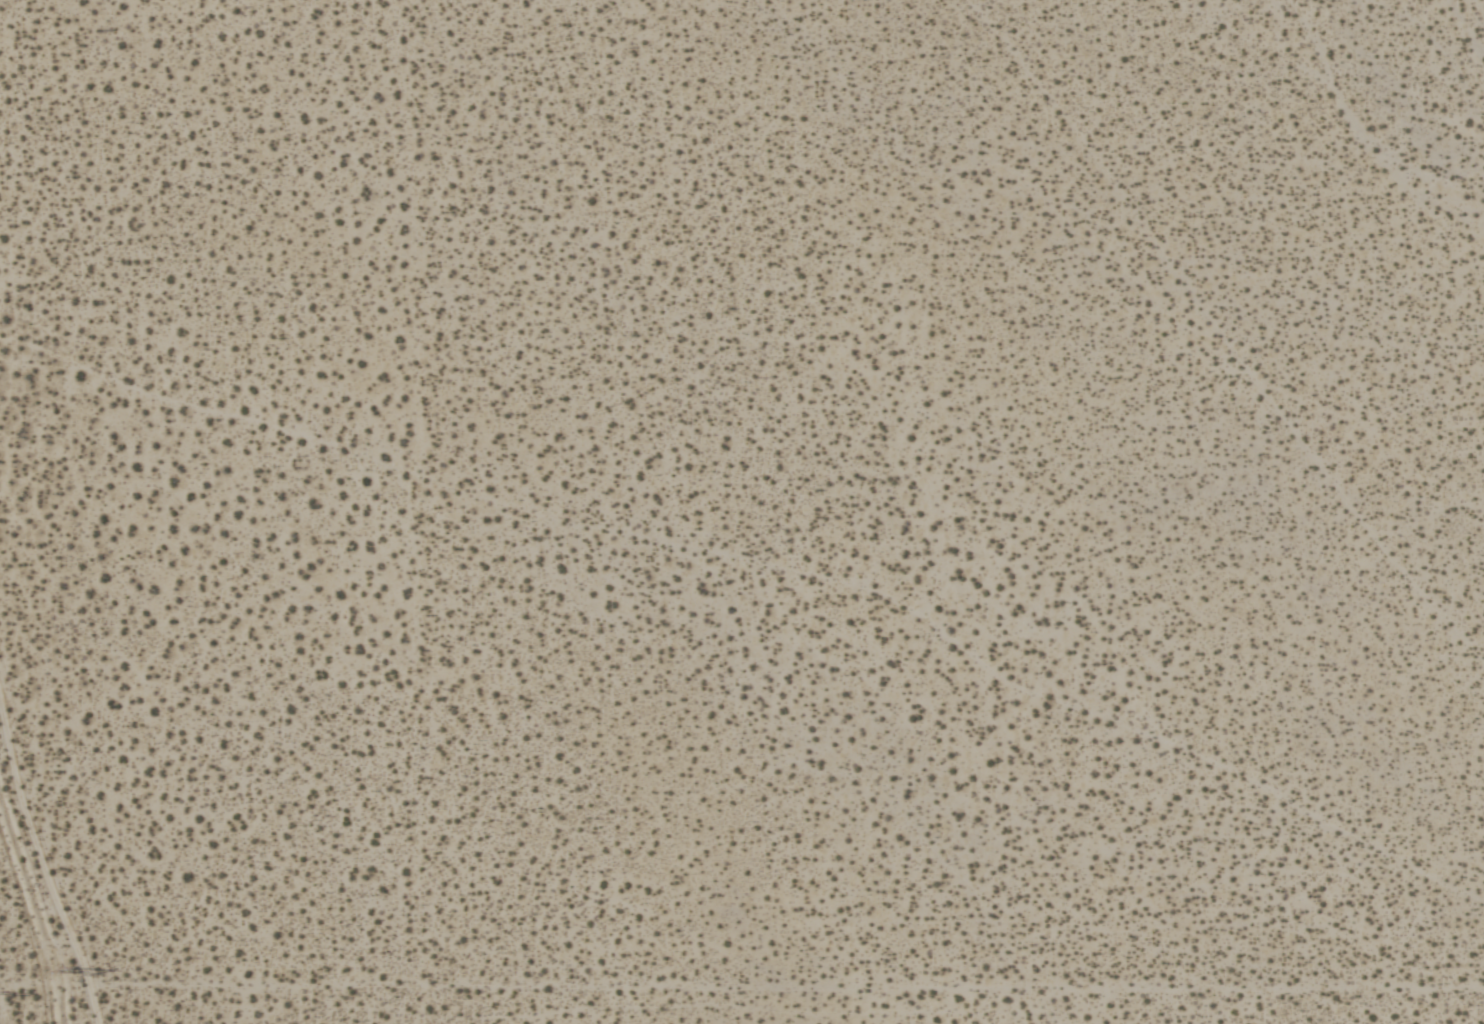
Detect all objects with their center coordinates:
power tower: (62, 968)

